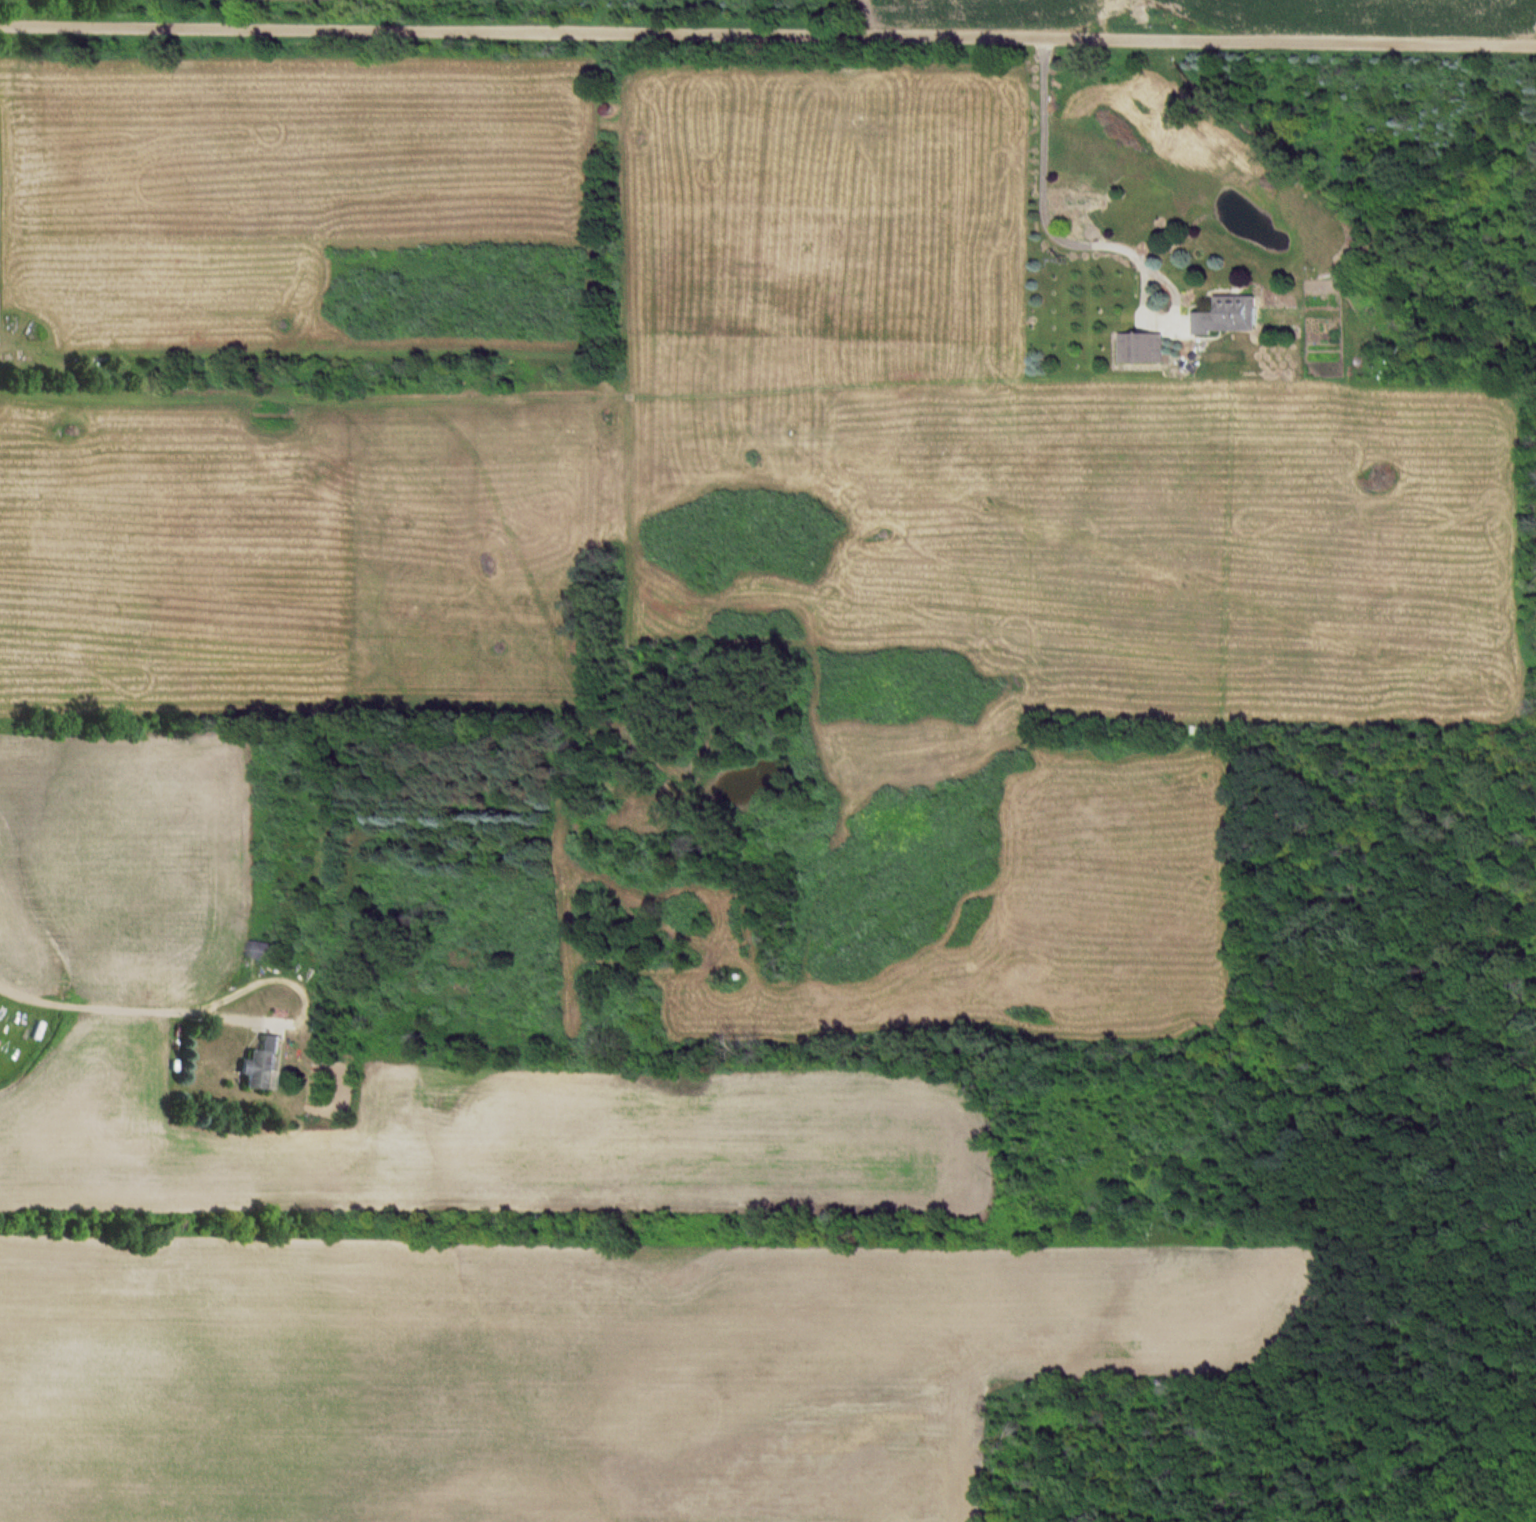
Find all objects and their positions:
road: (768, 34)
road: (1040, 198)
building: (1230, 316)
building: (1140, 348)
building: (263, 951)
road: (290, 989)
road: (79, 997)
building: (263, 1066)

